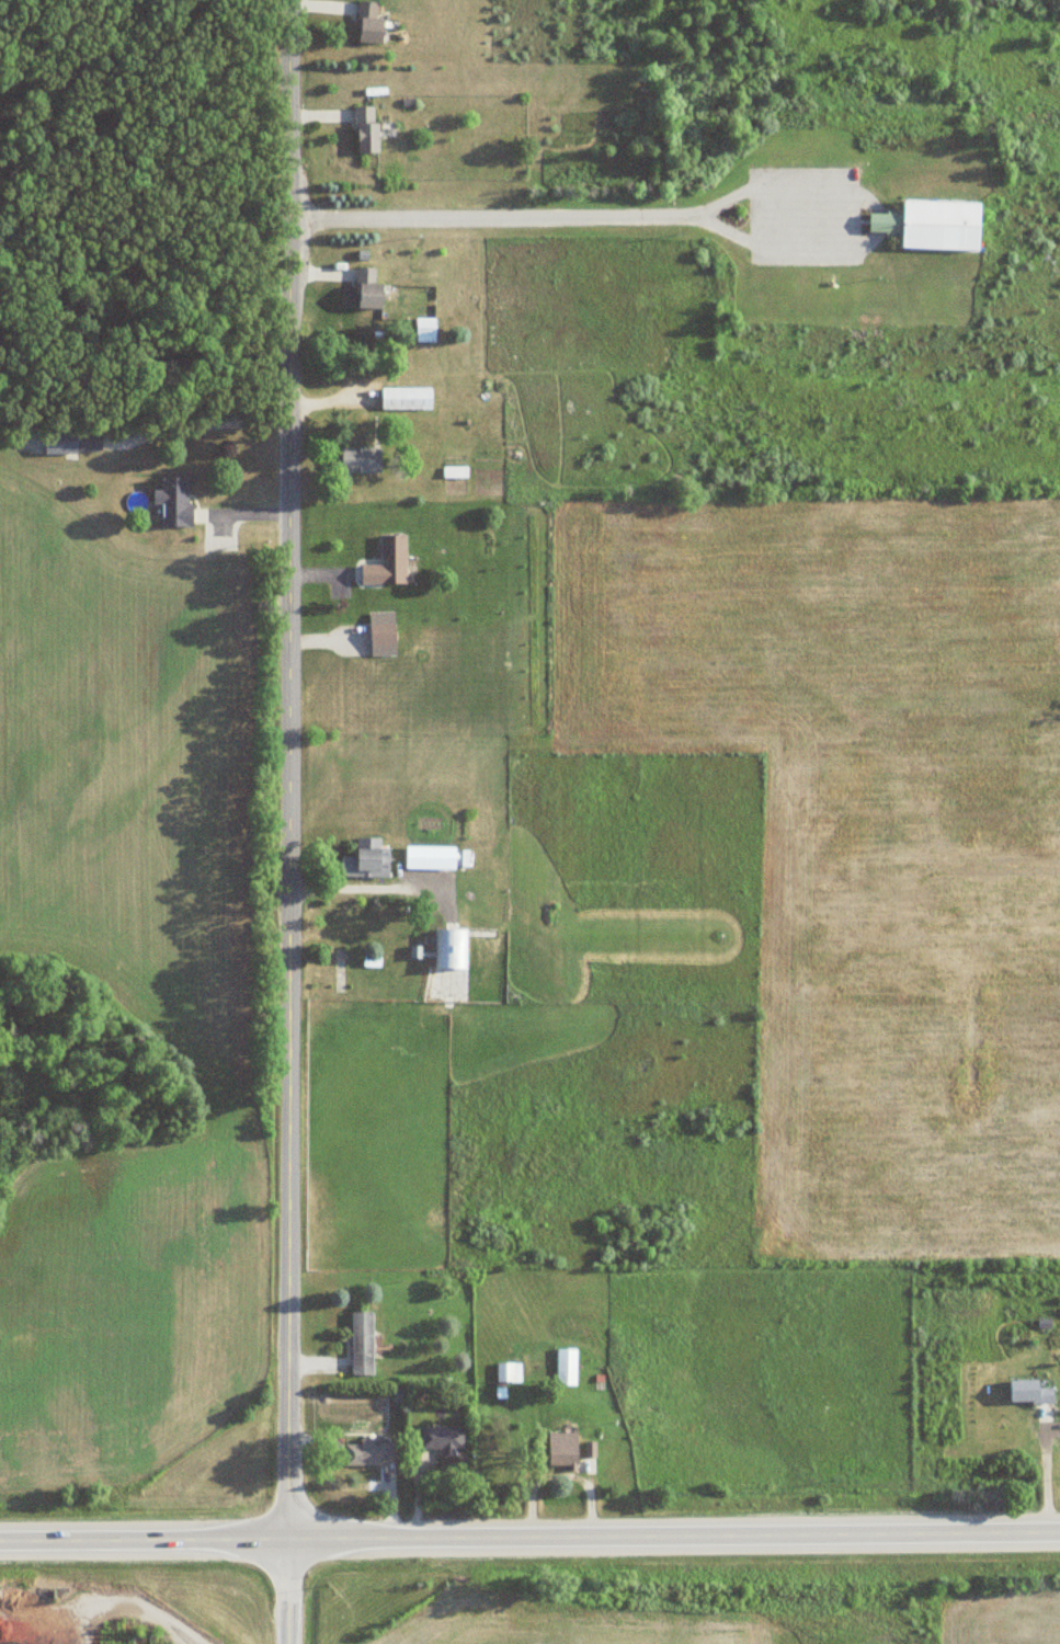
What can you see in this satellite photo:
building: (371, 24)
building: (367, 129)
road: (538, 215)
building: (933, 225)
road: (767, 241)
building: (369, 289)
building: (425, 330)
building: (407, 399)
road: (200, 415)
building: (73, 441)
building: (358, 460)
building: (174, 502)
building: (388, 563)
building: (384, 633)
road: (292, 822)
building: (437, 857)
building: (367, 858)
road: (354, 891)
building: (451, 947)
building: (362, 1342)
road: (314, 1365)
building: (567, 1366)
building: (509, 1371)
building: (441, 1437)
building: (563, 1449)
building: (369, 1451)
road: (529, 1537)
road: (127, 1601)
building: (152, 1641)

